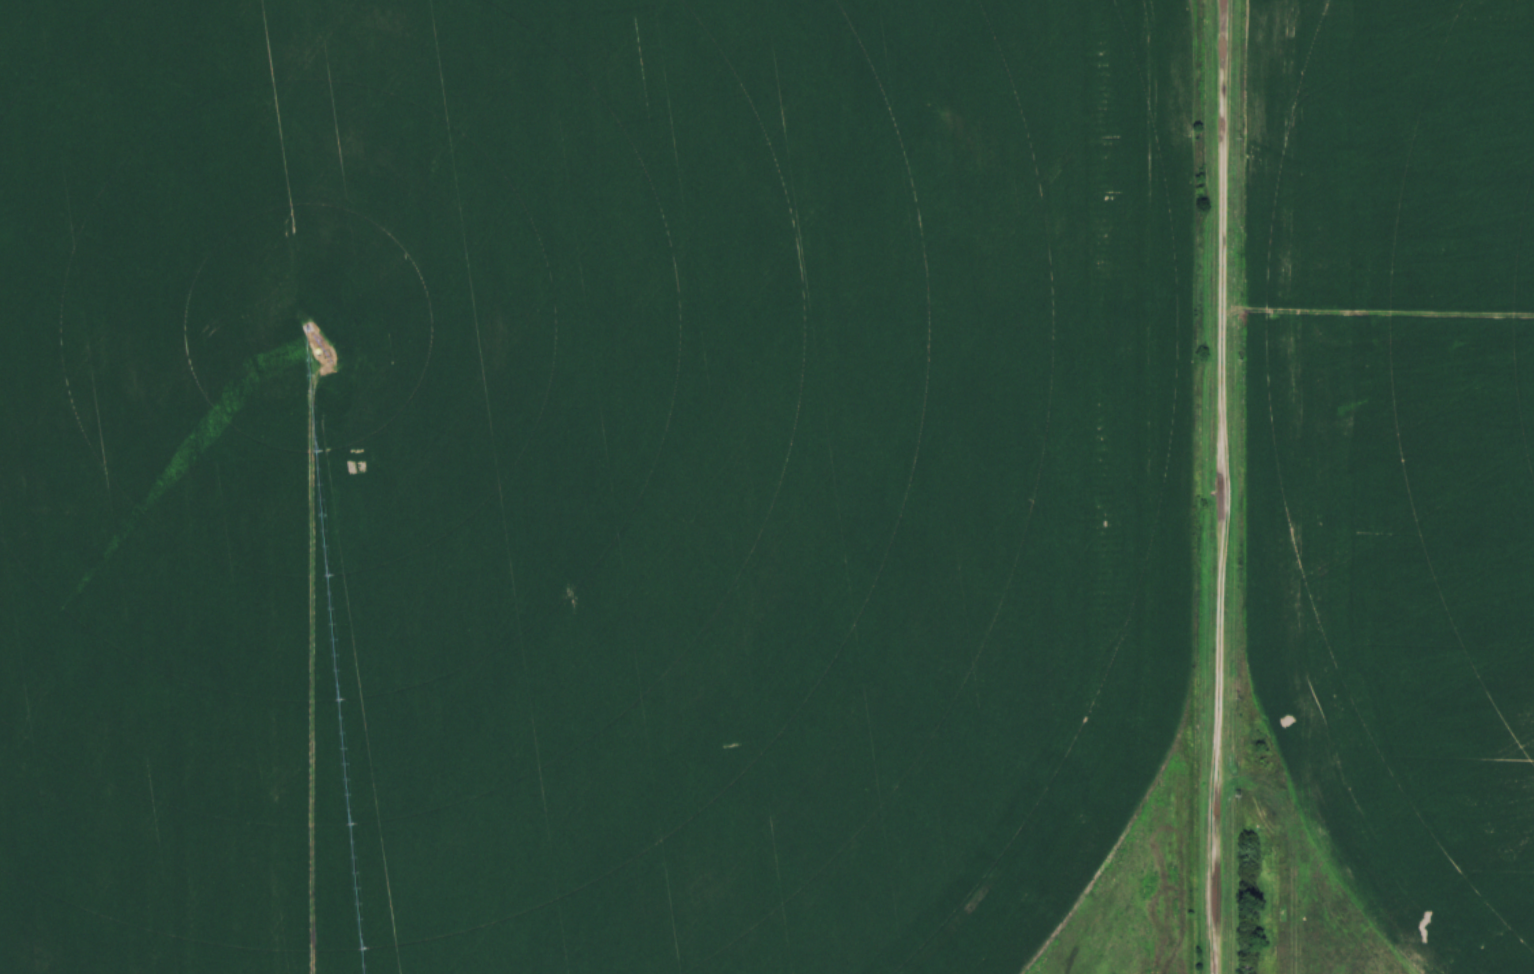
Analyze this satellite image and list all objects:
road: (1219, 486)

